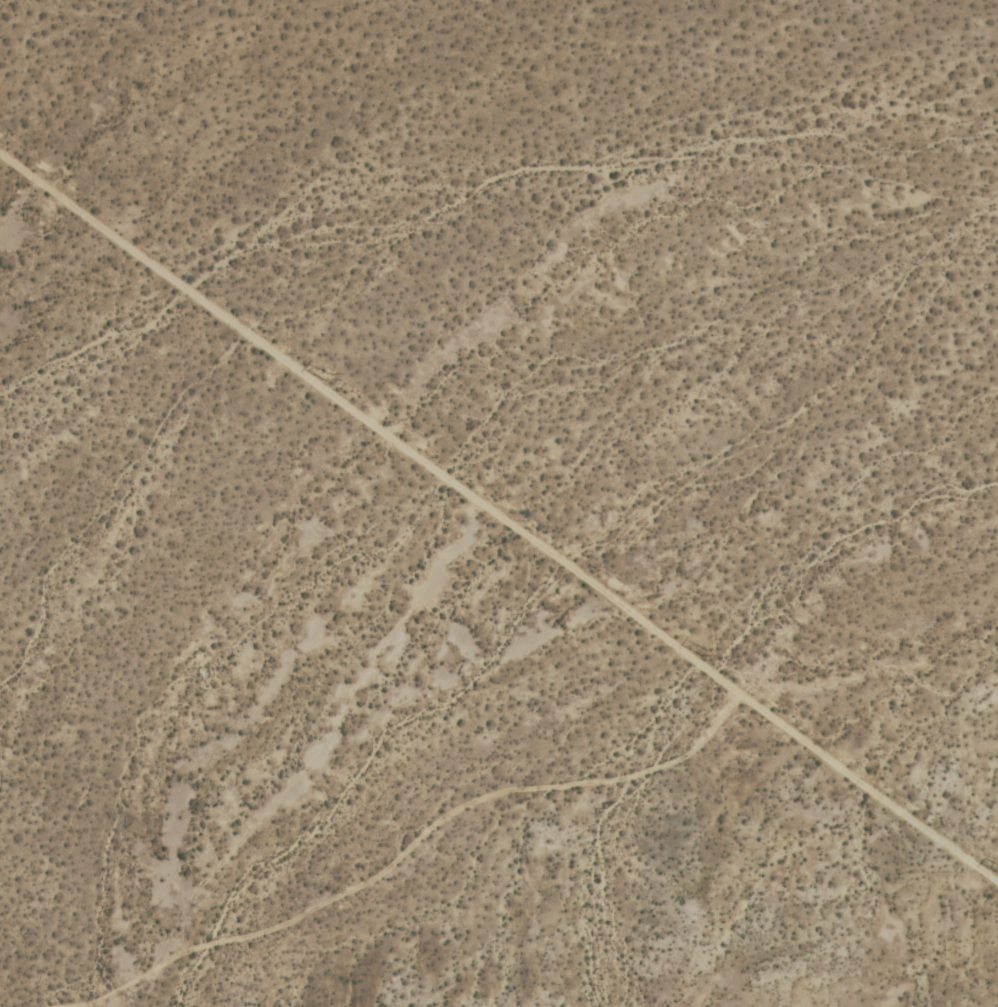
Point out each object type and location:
power tower: (327, 377)
road: (369, 423)
power tower: (708, 656)
road: (868, 788)
power tower: (997, 869)

